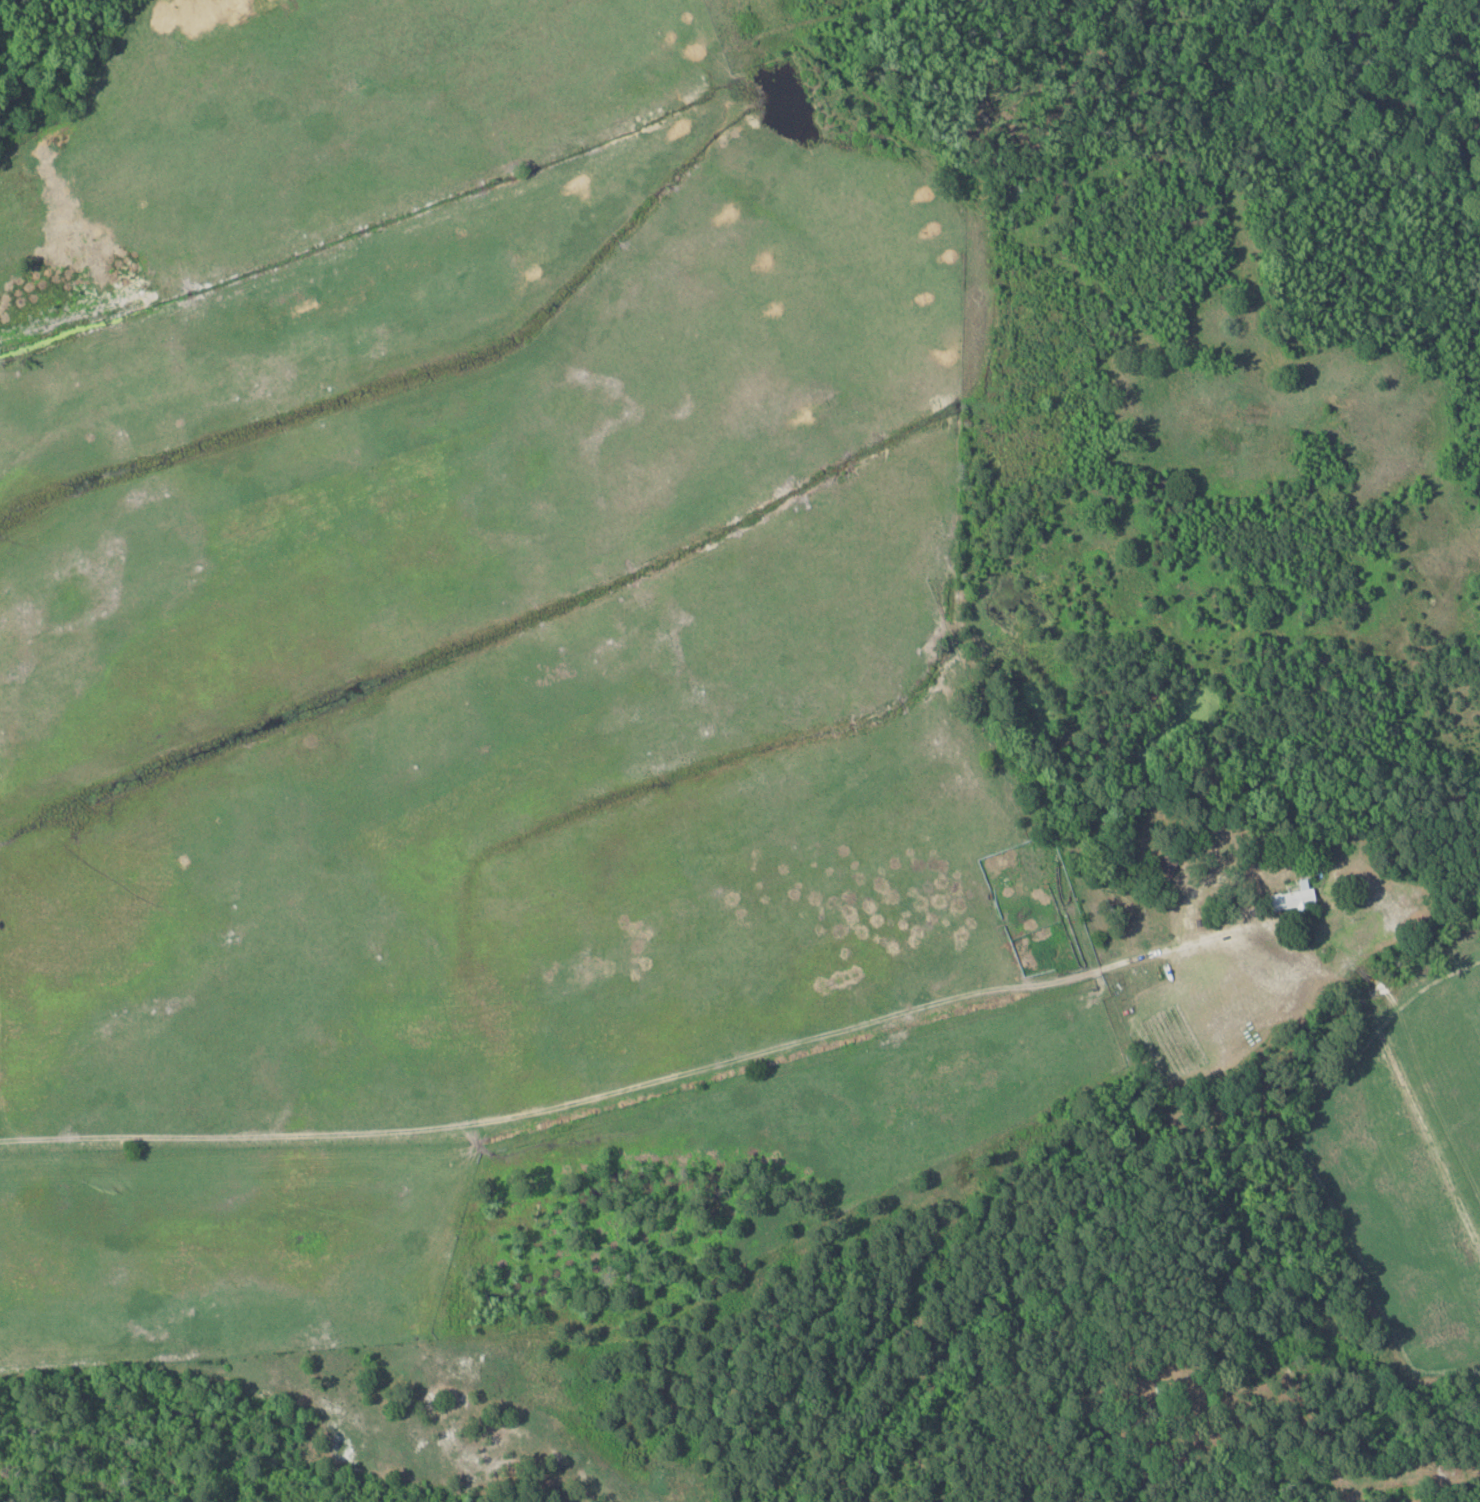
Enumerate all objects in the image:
building: (1168, 864)
building: (1293, 898)
building: (1163, 1404)

